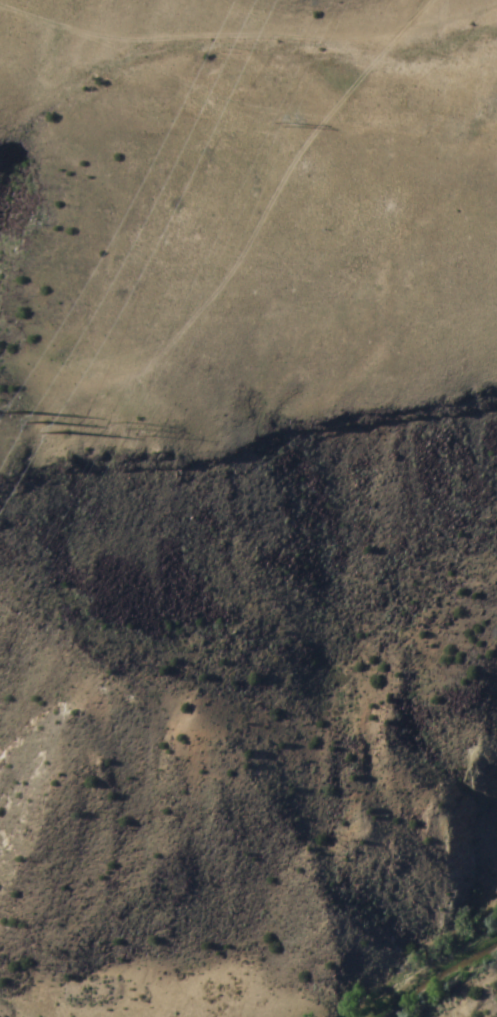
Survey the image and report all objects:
road: (434, 5)
road: (219, 35)
road: (199, 150)
power tower: (58, 422)
power tower: (147, 431)
road: (484, 998)

